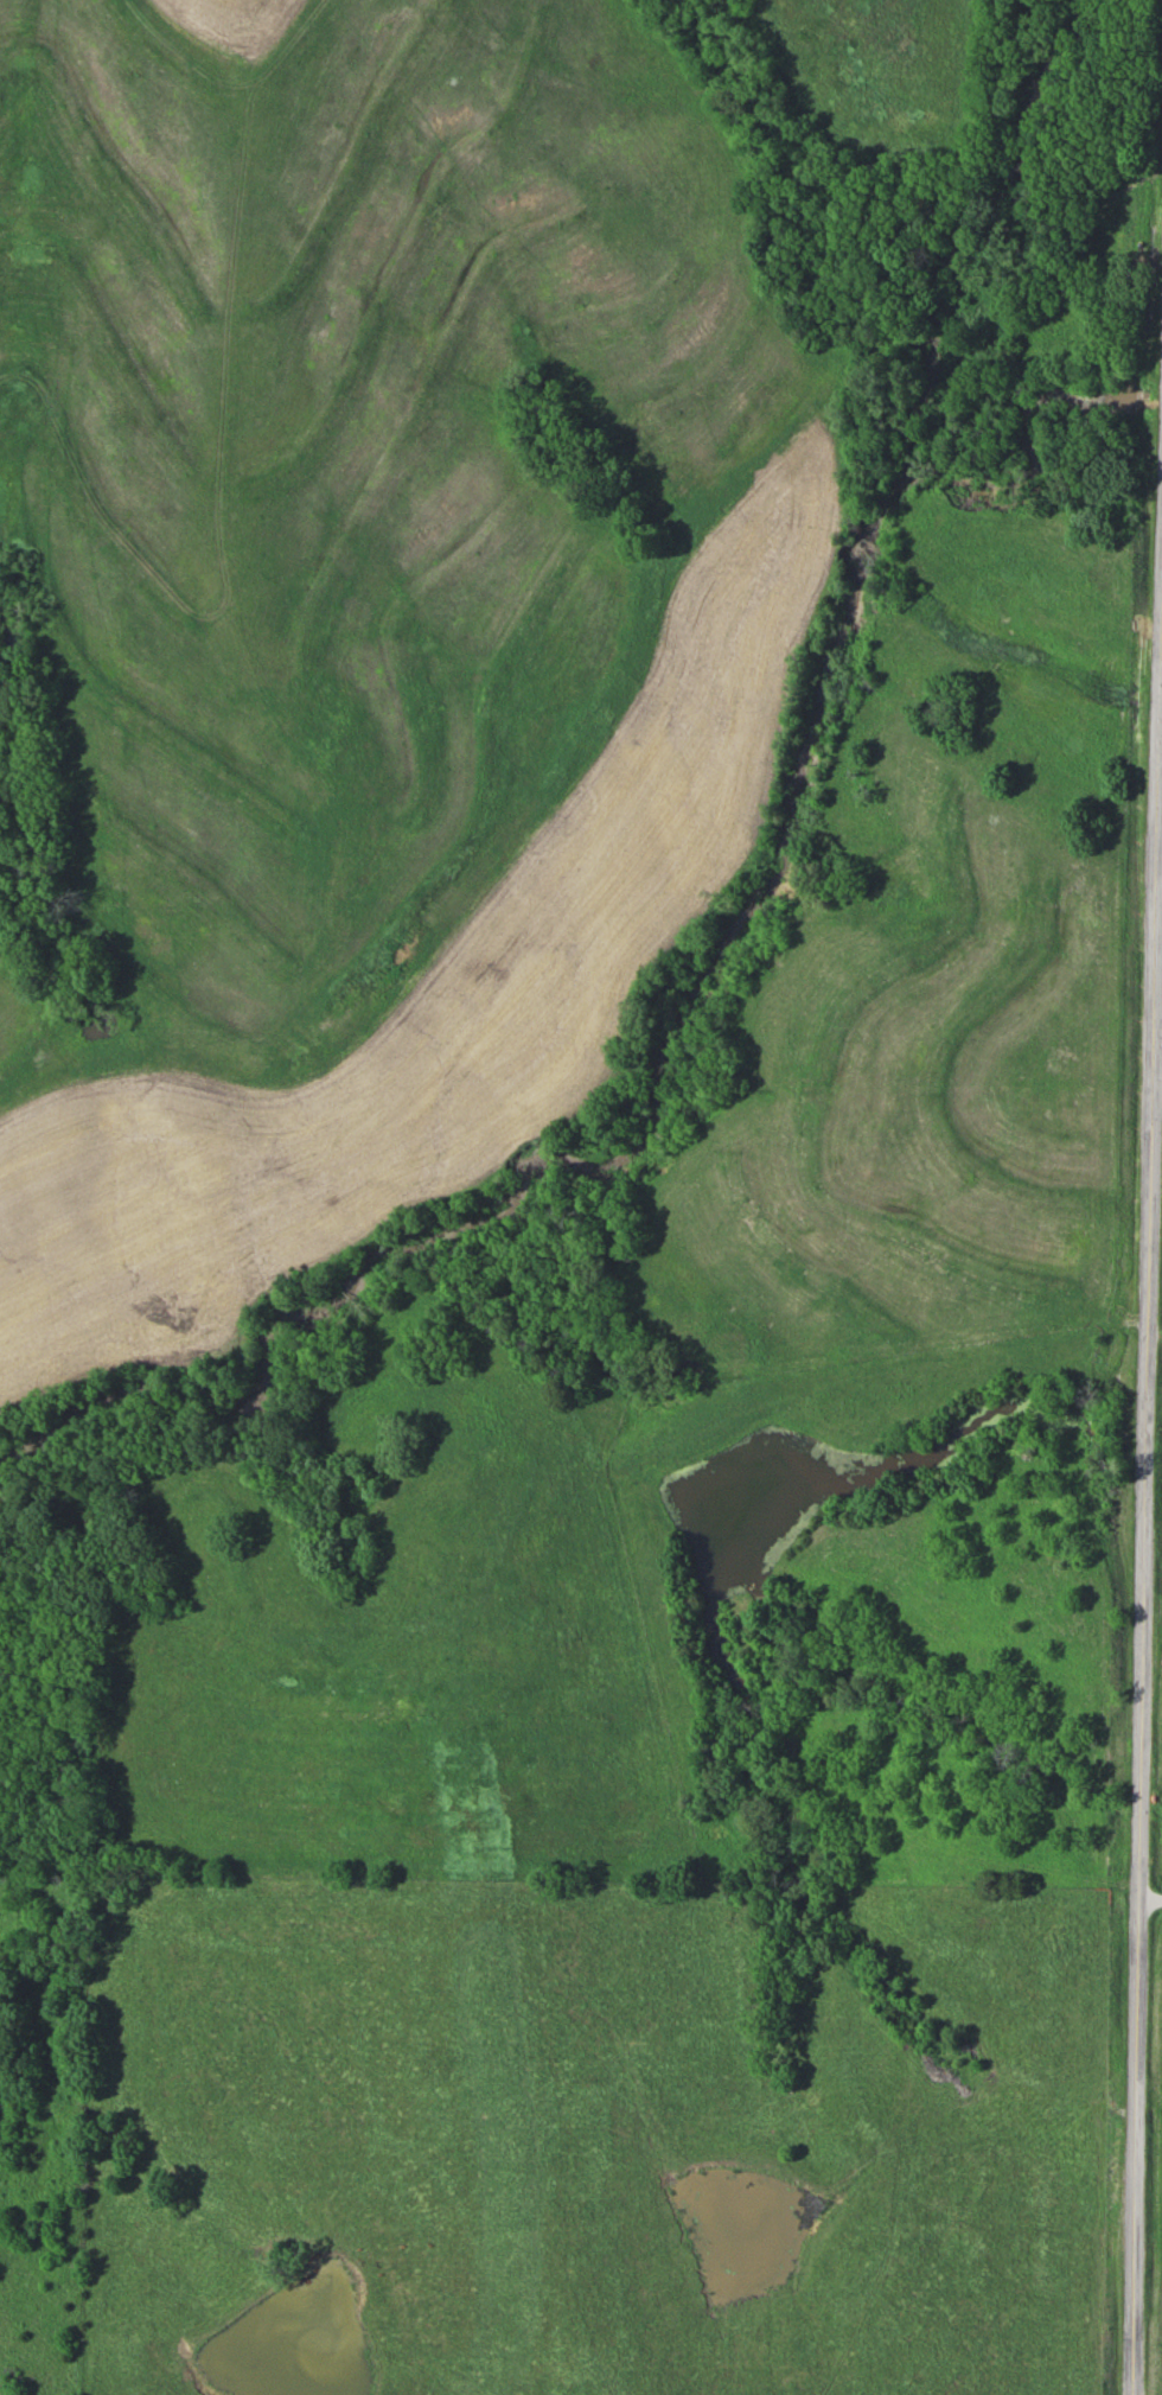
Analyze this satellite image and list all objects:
road: (1147, 1722)
road: (1151, 1953)

